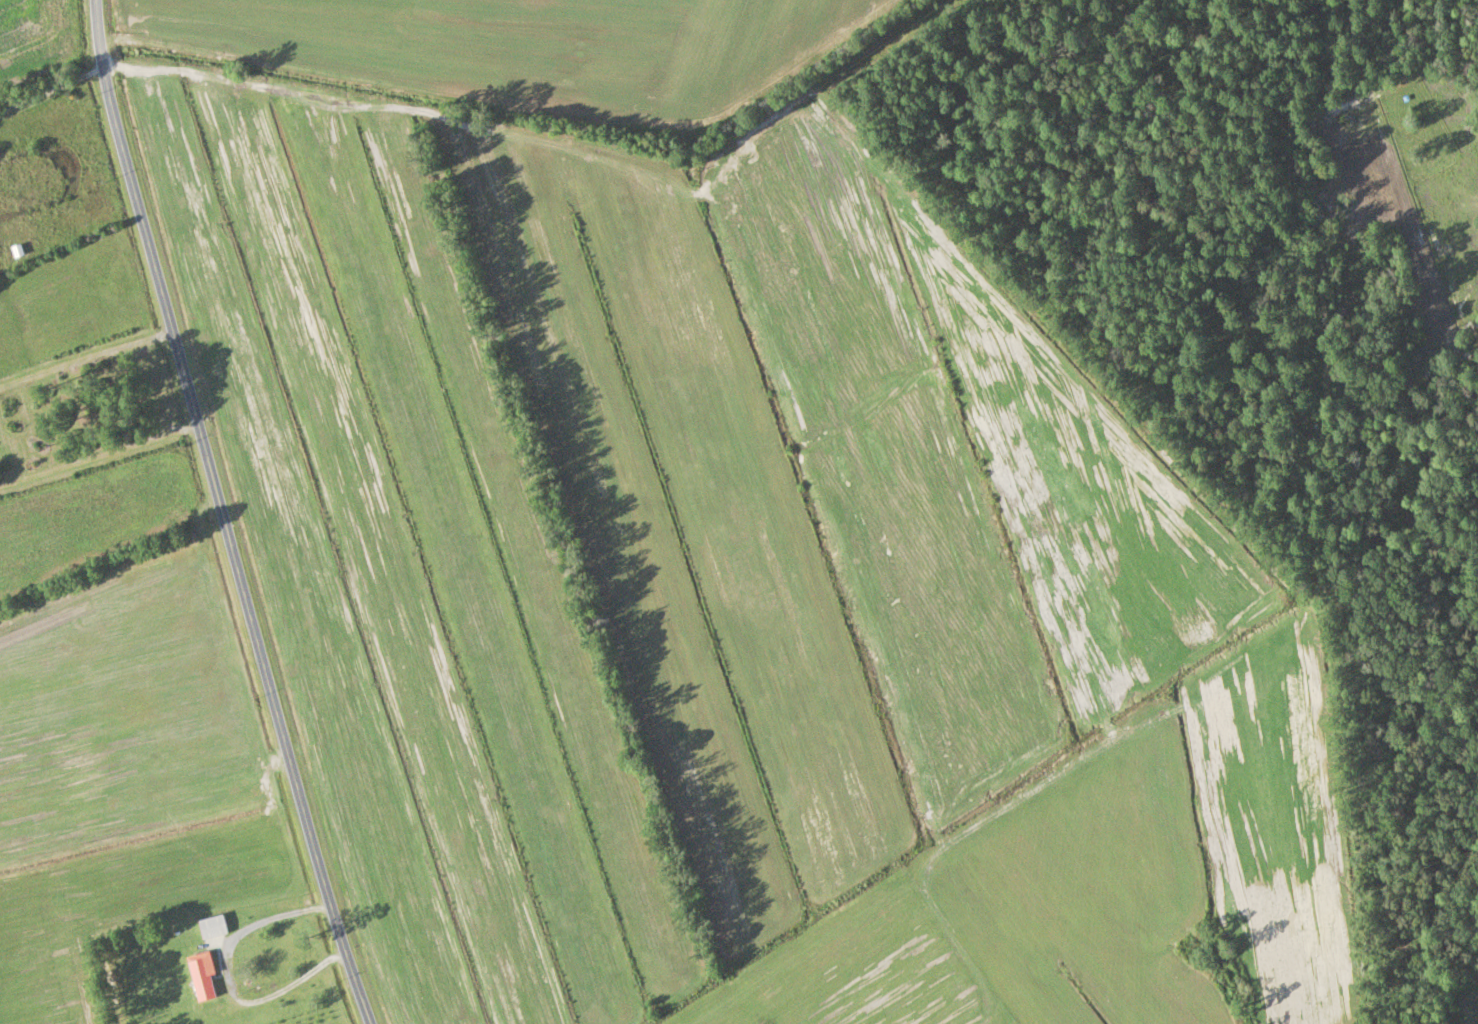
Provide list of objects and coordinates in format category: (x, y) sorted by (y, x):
road: (225, 514)
building: (211, 926)
building: (200, 976)

